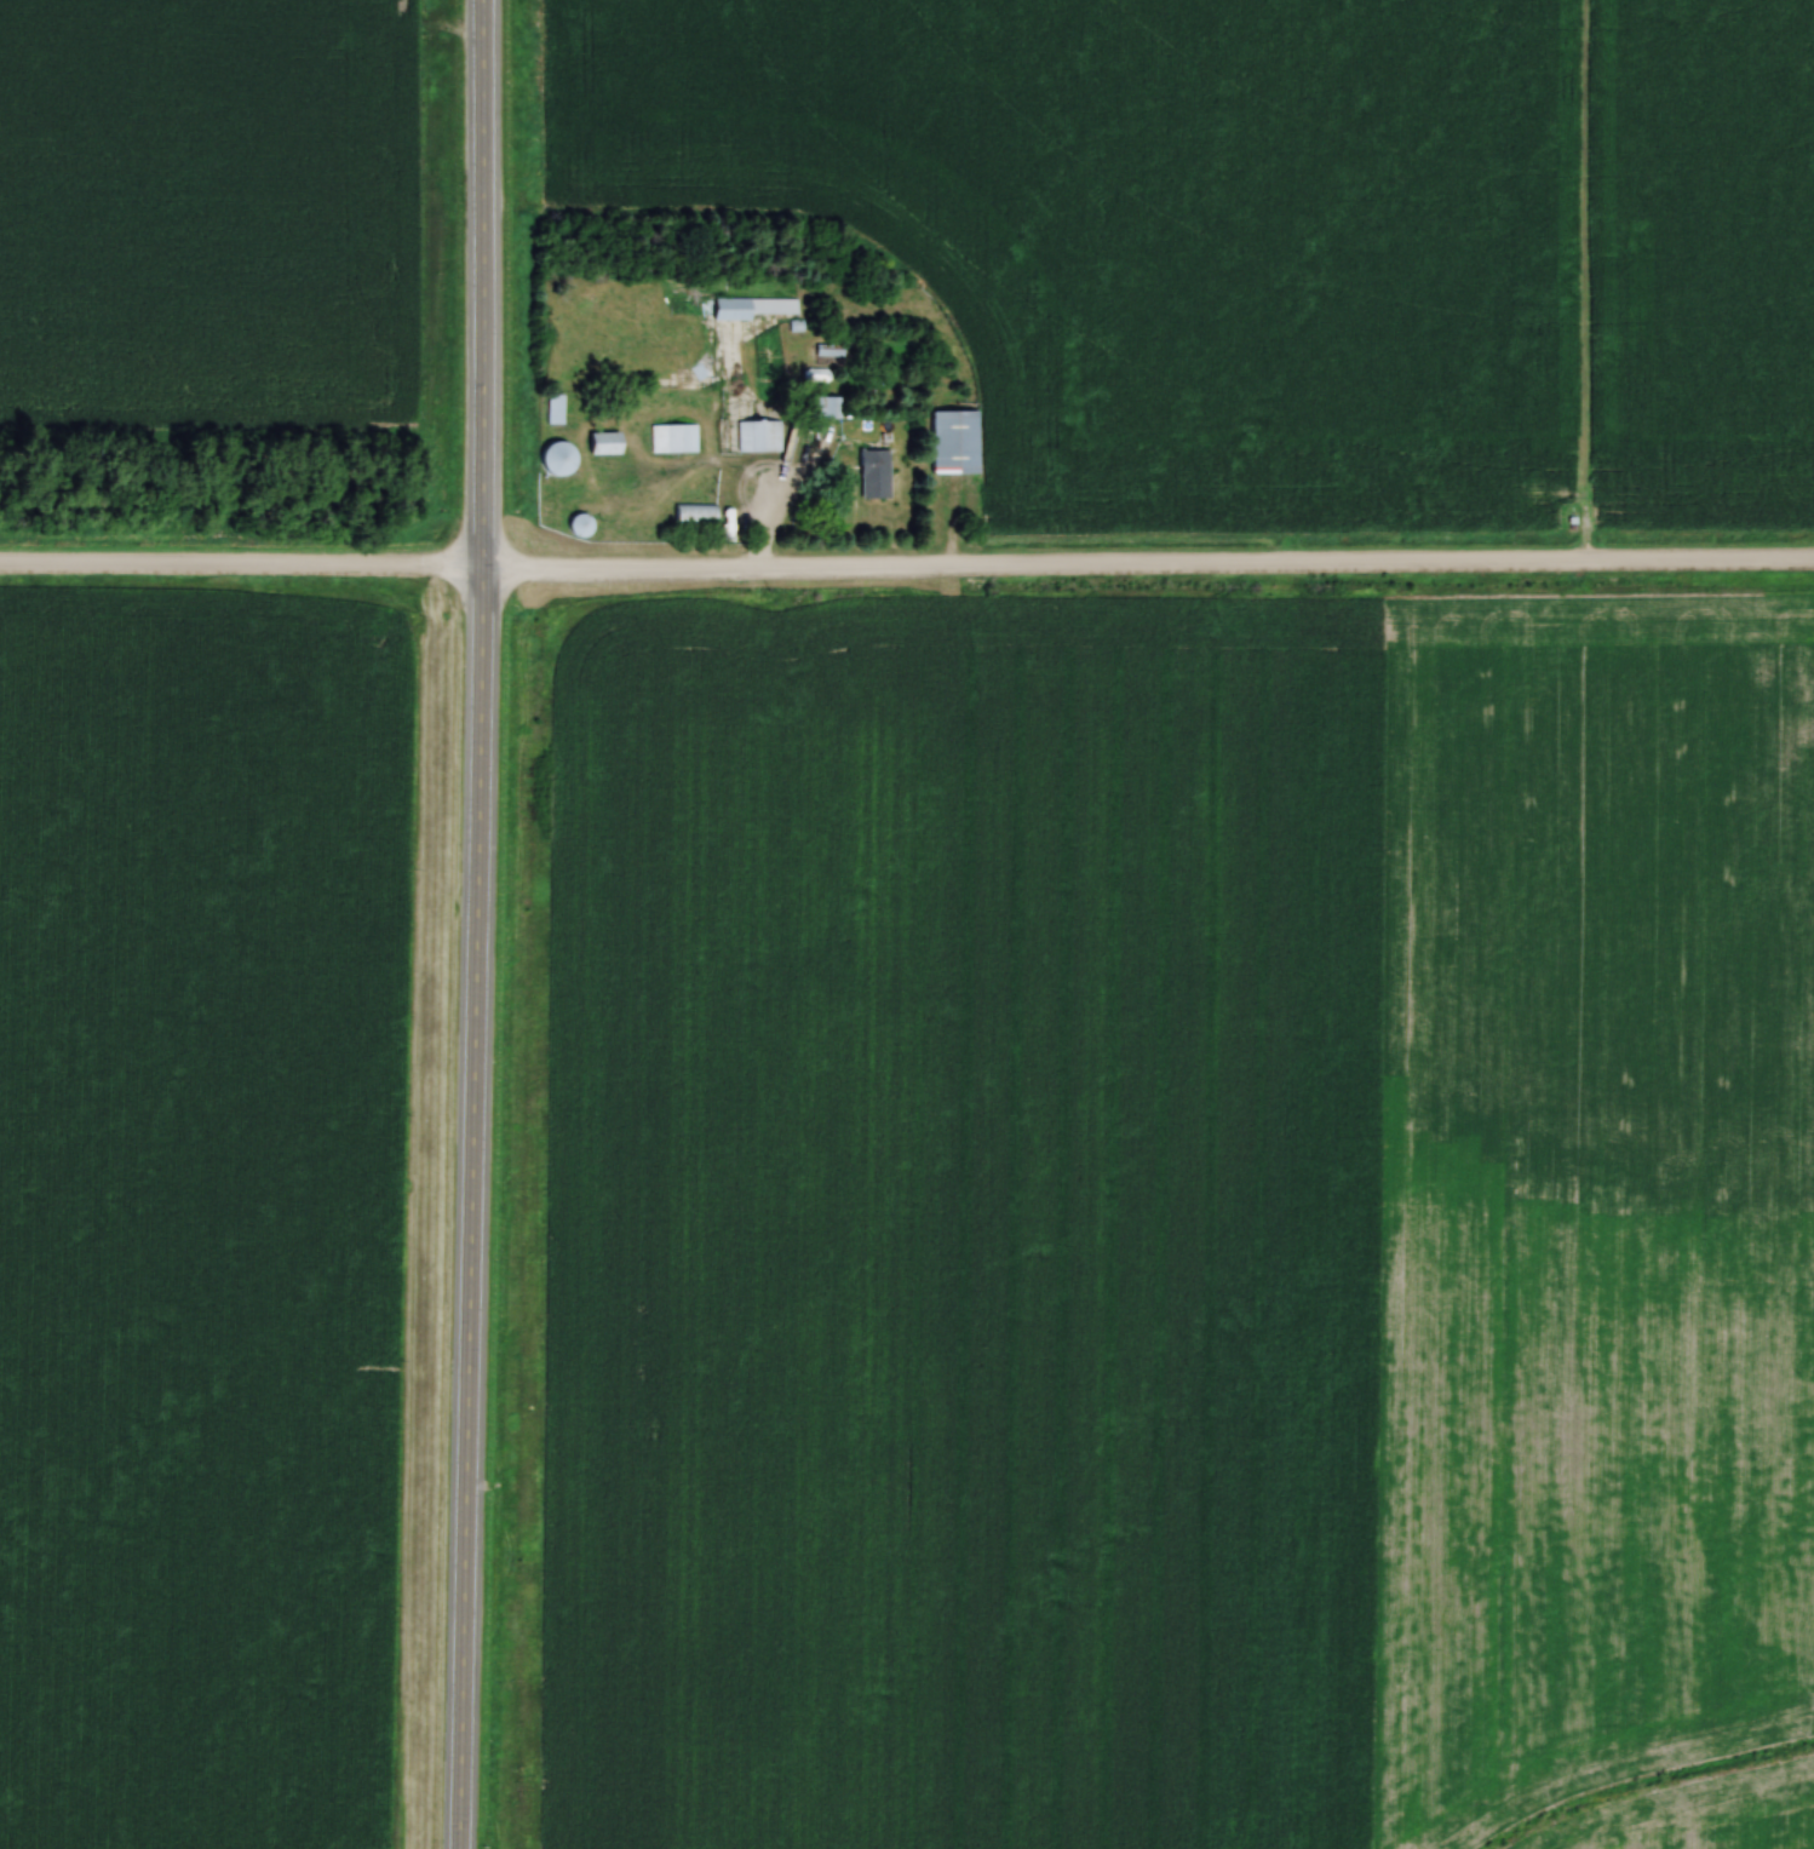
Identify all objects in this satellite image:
building: (711, 309)
building: (822, 408)
building: (552, 417)
building: (758, 437)
building: (601, 443)
building: (952, 443)
building: (557, 459)
building: (872, 477)
road: (771, 499)
building: (691, 516)
building: (580, 527)
road: (239, 568)
road: (1146, 570)
road: (471, 924)

